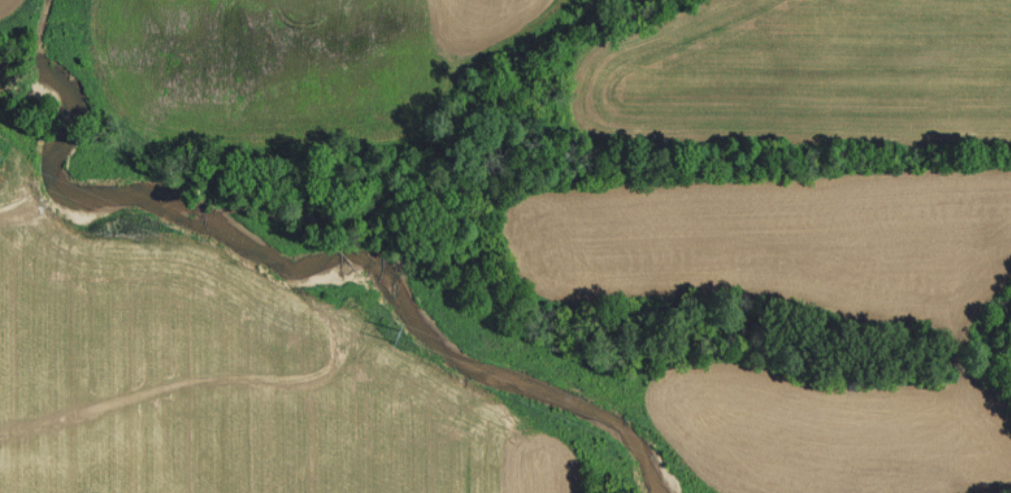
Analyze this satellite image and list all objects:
power tower: (393, 332)

